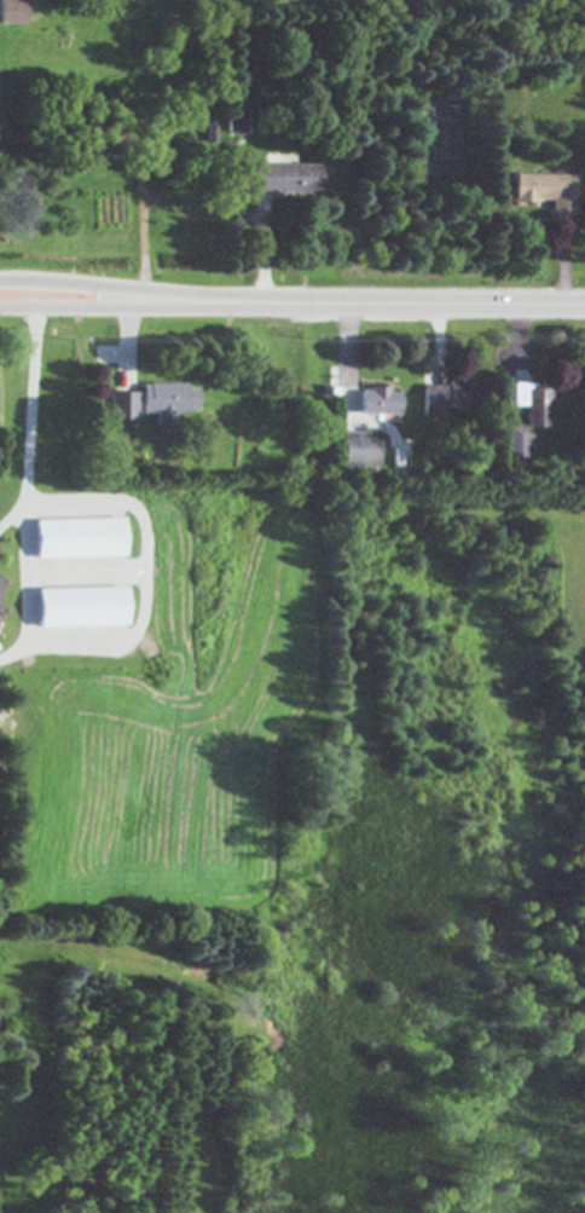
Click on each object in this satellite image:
building: (10, 12)
building: (236, 121)
building: (285, 179)
building: (544, 192)
road: (268, 261)
road: (567, 266)
road: (145, 275)
road: (112, 287)
road: (405, 301)
road: (112, 307)
road: (441, 324)
road: (521, 329)
road: (347, 341)
building: (446, 399)
building: (164, 403)
building: (376, 403)
building: (531, 405)
building: (118, 406)
road: (29, 422)
building: (514, 446)
building: (355, 451)
building: (75, 539)
building: (77, 608)

